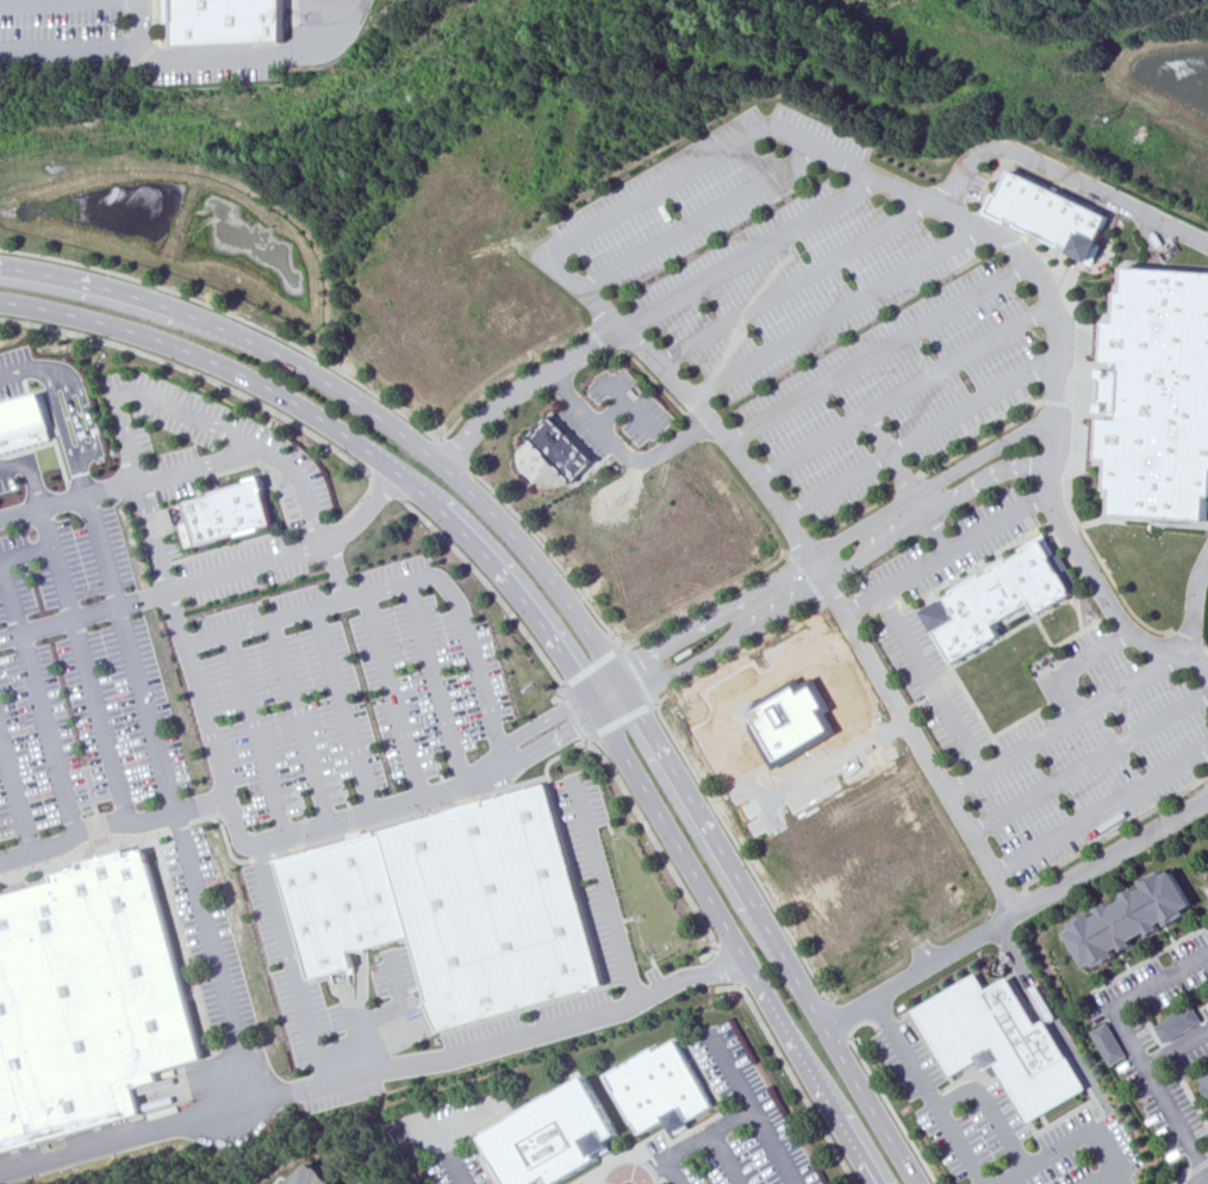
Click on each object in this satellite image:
road: (57, 2)
parking lot: (61, 18)
building: (232, 21)
road: (138, 25)
road: (70, 52)
road: (261, 54)
power tower: (386, 88)
power tower: (1108, 117)
road: (1065, 173)
building: (1057, 217)
road: (698, 218)
road: (549, 255)
road: (753, 255)
road: (796, 286)
parking lot: (818, 304)
road: (836, 314)
road: (878, 353)
road: (316, 356)
road: (21, 369)
road: (653, 376)
road: (527, 386)
road: (230, 388)
road: (903, 395)
building: (1160, 397)
road: (1059, 403)
road: (629, 407)
road: (86, 412)
road: (1076, 412)
road: (73, 415)
parking lot: (618, 415)
road: (614, 416)
road: (60, 419)
road: (201, 422)
building: (23, 424)
road: (920, 441)
road: (983, 441)
parking lot: (207, 443)
road: (422, 449)
building: (567, 449)
road: (621, 449)
road: (455, 453)
road: (170, 474)
road: (27, 475)
road: (403, 479)
road: (909, 481)
road: (386, 485)
road: (910, 485)
road: (80, 487)
road: (41, 511)
building: (225, 513)
road: (857, 513)
road: (801, 544)
road: (24, 552)
road: (820, 553)
road: (948, 556)
road: (160, 565)
parking lot: (239, 569)
road: (335, 569)
road: (211, 577)
road: (805, 577)
road: (824, 579)
road: (496, 593)
building: (1001, 598)
road: (1195, 606)
road: (301, 610)
road: (609, 628)
road: (1188, 640)
road: (1207, 650)
road: (739, 652)
road: (1071, 666)
road: (593, 667)
road: (82, 668)
road: (639, 674)
road: (436, 683)
road: (932, 683)
parking lot: (76, 684)
parking lot: (1117, 691)
parking lot: (348, 692)
road: (393, 696)
road: (37, 705)
road: (341, 710)
road: (574, 713)
road: (622, 719)
building: (784, 719)
road: (542, 721)
road: (1066, 721)
road: (299, 722)
road: (253, 735)
road: (555, 740)
road: (150, 742)
road: (549, 761)
road: (1089, 764)
road: (14, 802)
road: (1101, 812)
road: (351, 818)
road: (176, 827)
road: (96, 828)
road: (222, 835)
road: (81, 849)
road: (742, 855)
road: (260, 856)
building: (363, 891)
building: (492, 908)
building: (312, 914)
building: (1128, 918)
parking lot: (609, 929)
parking lot: (205, 934)
road: (181, 943)
road: (726, 965)
parking lot: (287, 967)
road: (919, 967)
parking lot: (393, 973)
parking lot: (653, 974)
road: (690, 976)
road: (810, 998)
building: (86, 999)
road: (771, 1007)
road: (883, 1012)
road: (840, 1016)
building: (1176, 1023)
road: (1058, 1028)
building: (1002, 1040)
building: (1108, 1043)
road: (1132, 1046)
road: (472, 1051)
road: (1177, 1051)
road: (789, 1070)
road: (237, 1073)
building: (1206, 1080)
road: (1182, 1084)
building: (664, 1089)
road: (880, 1091)
road: (274, 1095)
road: (754, 1107)
road: (936, 1107)
road: (991, 1109)
parking lot: (1003, 1127)
parking lot: (728, 1129)
parking lot: (453, 1133)
building: (555, 1135)
road: (698, 1141)
road: (1067, 1146)
road: (443, 1153)
road: (728, 1158)
road: (1196, 1165)
road: (629, 1170)
road: (674, 1172)
building: (307, 1176)
road: (1103, 1177)
road: (1119, 1177)
road: (1179, 1177)
road: (1132, 1179)
parking lot: (580, 1183)

